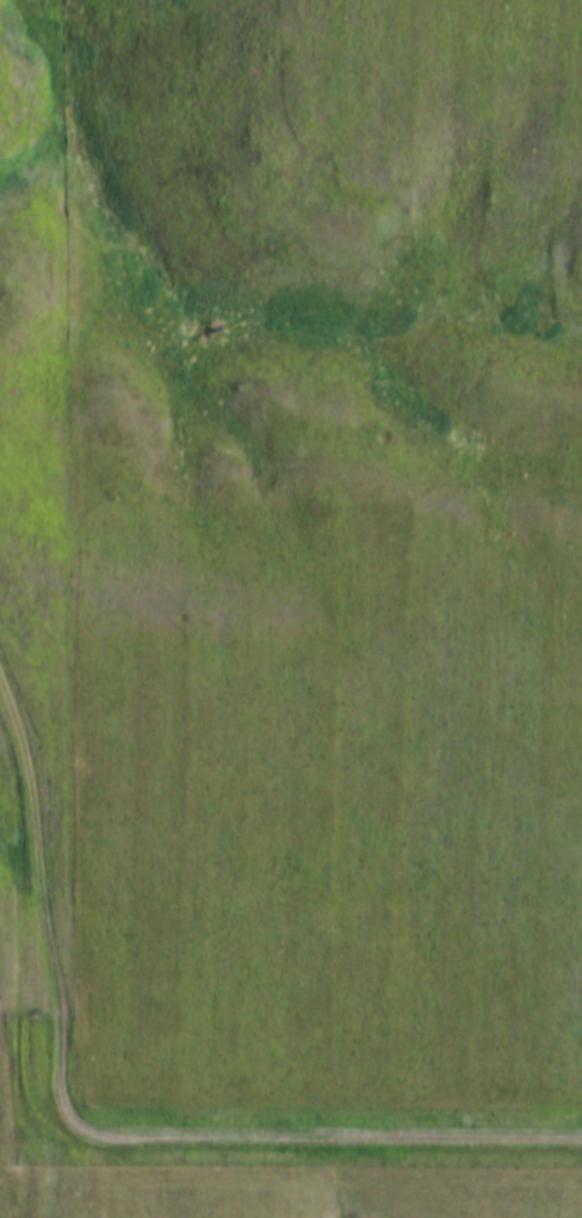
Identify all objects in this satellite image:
road: (34, 881)
road: (298, 1139)

